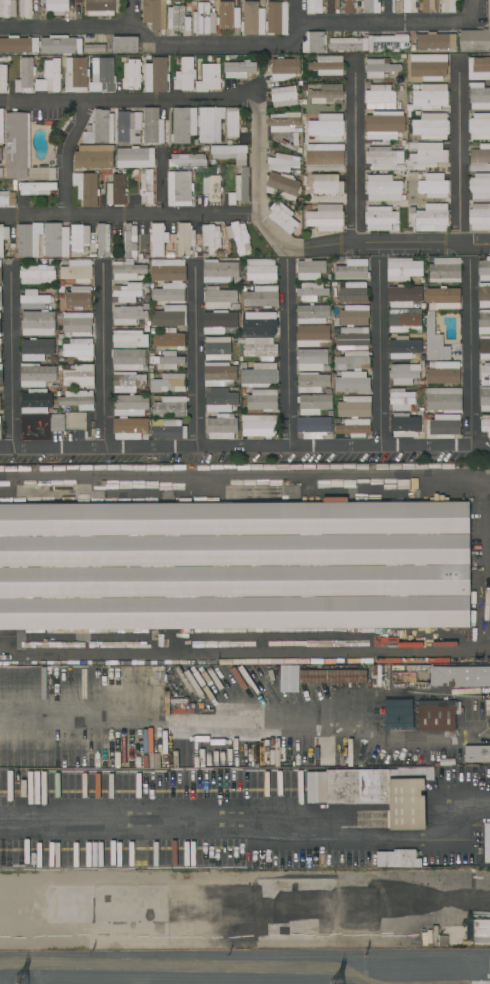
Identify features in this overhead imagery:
building: (57, 6)
building: (314, 6)
building: (331, 6)
building: (350, 6)
building: (370, 6)
building: (385, 6)
building: (409, 6)
building: (428, 6)
building: (448, 6)
building: (103, 7)
building: (7, 8)
building: (25, 9)
road: (470, 10)
road: (132, 13)
building: (154, 13)
building: (228, 16)
building: (276, 18)
building: (204, 19)
building: (253, 19)
building: (179, 20)
road: (294, 22)
road: (382, 23)
road: (82, 27)
building: (475, 40)
building: (436, 41)
building: (314, 42)
building: (370, 43)
building: (18, 44)
building: (61, 45)
building: (121, 45)
road: (227, 45)
building: (93, 48)
building: (327, 65)
building: (429, 67)
building: (284, 68)
building: (379, 68)
building: (479, 68)
building: (239, 69)
building: (52, 75)
building: (76, 75)
building: (102, 75)
building: (131, 75)
building: (156, 75)
building: (185, 75)
building: (25, 76)
building: (3, 78)
building: (209, 78)
building: (326, 94)
building: (284, 96)
building: (429, 96)
building: (479, 96)
building: (380, 98)
road: (128, 99)
building: (283, 121)
building: (232, 122)
building: (210, 124)
building: (184, 125)
building: (384, 125)
building: (1, 126)
building: (153, 126)
building: (431, 126)
building: (128, 127)
building: (327, 127)
building: (479, 127)
building: (100, 128)
building: (244, 129)
building: (295, 138)
building: (403, 143)
building: (286, 144)
building: (17, 145)
building: (206, 148)
road: (355, 150)
road: (459, 152)
building: (230, 153)
building: (0, 154)
road: (66, 154)
building: (428, 154)
building: (94, 157)
building: (135, 157)
building: (325, 157)
building: (384, 158)
building: (480, 158)
building: (187, 160)
building: (283, 162)
building: (1, 172)
building: (52, 174)
building: (419, 176)
road: (161, 181)
road: (257, 183)
building: (327, 185)
building: (145, 186)
building: (282, 186)
building: (434, 186)
building: (240, 187)
building: (480, 187)
building: (36, 188)
building: (86, 188)
building: (179, 188)
building: (212, 188)
building: (383, 188)
building: (116, 190)
building: (7, 198)
building: (300, 199)
building: (306, 206)
road: (128, 214)
building: (283, 217)
building: (479, 217)
building: (326, 218)
building: (381, 218)
building: (431, 218)
building: (396, 228)
building: (3, 237)
building: (211, 237)
building: (239, 237)
building: (79, 238)
building: (130, 239)
building: (185, 239)
building: (56, 240)
building: (103, 240)
building: (157, 240)
building: (27, 242)
road: (392, 246)
building: (341, 258)
building: (310, 269)
building: (352, 269)
building: (403, 269)
building: (444, 269)
building: (77, 270)
building: (127, 270)
building: (168, 270)
building: (484, 270)
building: (260, 271)
building: (220, 272)
building: (0, 274)
building: (37, 274)
building: (329, 276)
building: (334, 284)
building: (0, 289)
building: (60, 289)
building: (311, 291)
building: (128, 292)
building: (169, 293)
building: (350, 293)
building: (484, 295)
building: (260, 296)
building: (404, 296)
building: (61, 298)
building: (78, 298)
building: (146, 298)
building: (220, 298)
building: (443, 298)
building: (0, 299)
building: (34, 300)
building: (145, 306)
building: (313, 314)
building: (128, 315)
building: (354, 315)
building: (170, 316)
building: (405, 320)
building: (484, 321)
building: (140, 322)
building: (219, 322)
building: (259, 322)
building: (38, 323)
building: (78, 324)
building: (147, 326)
building: (0, 328)
building: (152, 330)
building: (312, 335)
building: (353, 337)
building: (129, 339)
building: (169, 339)
building: (435, 340)
building: (403, 347)
building: (484, 347)
building: (217, 348)
building: (259, 348)
building: (36, 349)
building: (79, 349)
road: (378, 351)
road: (194, 352)
road: (287, 352)
road: (469, 352)
road: (11, 353)
building: (0, 354)
road: (101, 354)
building: (423, 357)
building: (128, 360)
building: (312, 360)
building: (351, 360)
building: (167, 361)
building: (421, 362)
building: (150, 368)
building: (444, 373)
building: (1, 374)
building: (219, 374)
building: (403, 374)
building: (485, 374)
building: (37, 375)
building: (258, 375)
building: (80, 377)
building: (127, 382)
building: (312, 382)
building: (169, 383)
building: (352, 383)
building: (420, 387)
building: (484, 398)
building: (78, 399)
building: (401, 399)
building: (444, 399)
building: (220, 400)
building: (262, 400)
building: (37, 401)
building: (0, 403)
building: (314, 403)
building: (130, 405)
building: (169, 406)
building: (354, 407)
building: (421, 409)
building: (75, 420)
building: (57, 422)
building: (485, 424)
building: (259, 425)
building: (404, 425)
building: (222, 426)
building: (444, 426)
building: (313, 427)
building: (129, 428)
building: (354, 428)
building: (168, 429)
building: (0, 431)
building: (145, 437)
road: (245, 447)
building: (234, 565)
building: (332, 676)
building: (460, 676)
building: (288, 678)
building: (409, 680)
building: (487, 706)
building: (397, 714)
road: (260, 715)
building: (438, 715)
building: (182, 750)
building: (7, 753)
building: (477, 754)
building: (383, 792)
road: (257, 823)
building: (487, 842)
building: (397, 858)
building: (9, 895)
road: (273, 900)
building: (482, 931)
building: (451, 936)
building: (419, 939)
building: (93, 973)
power tower: (25, 982)
building: (83, 982)
building: (161, 982)

